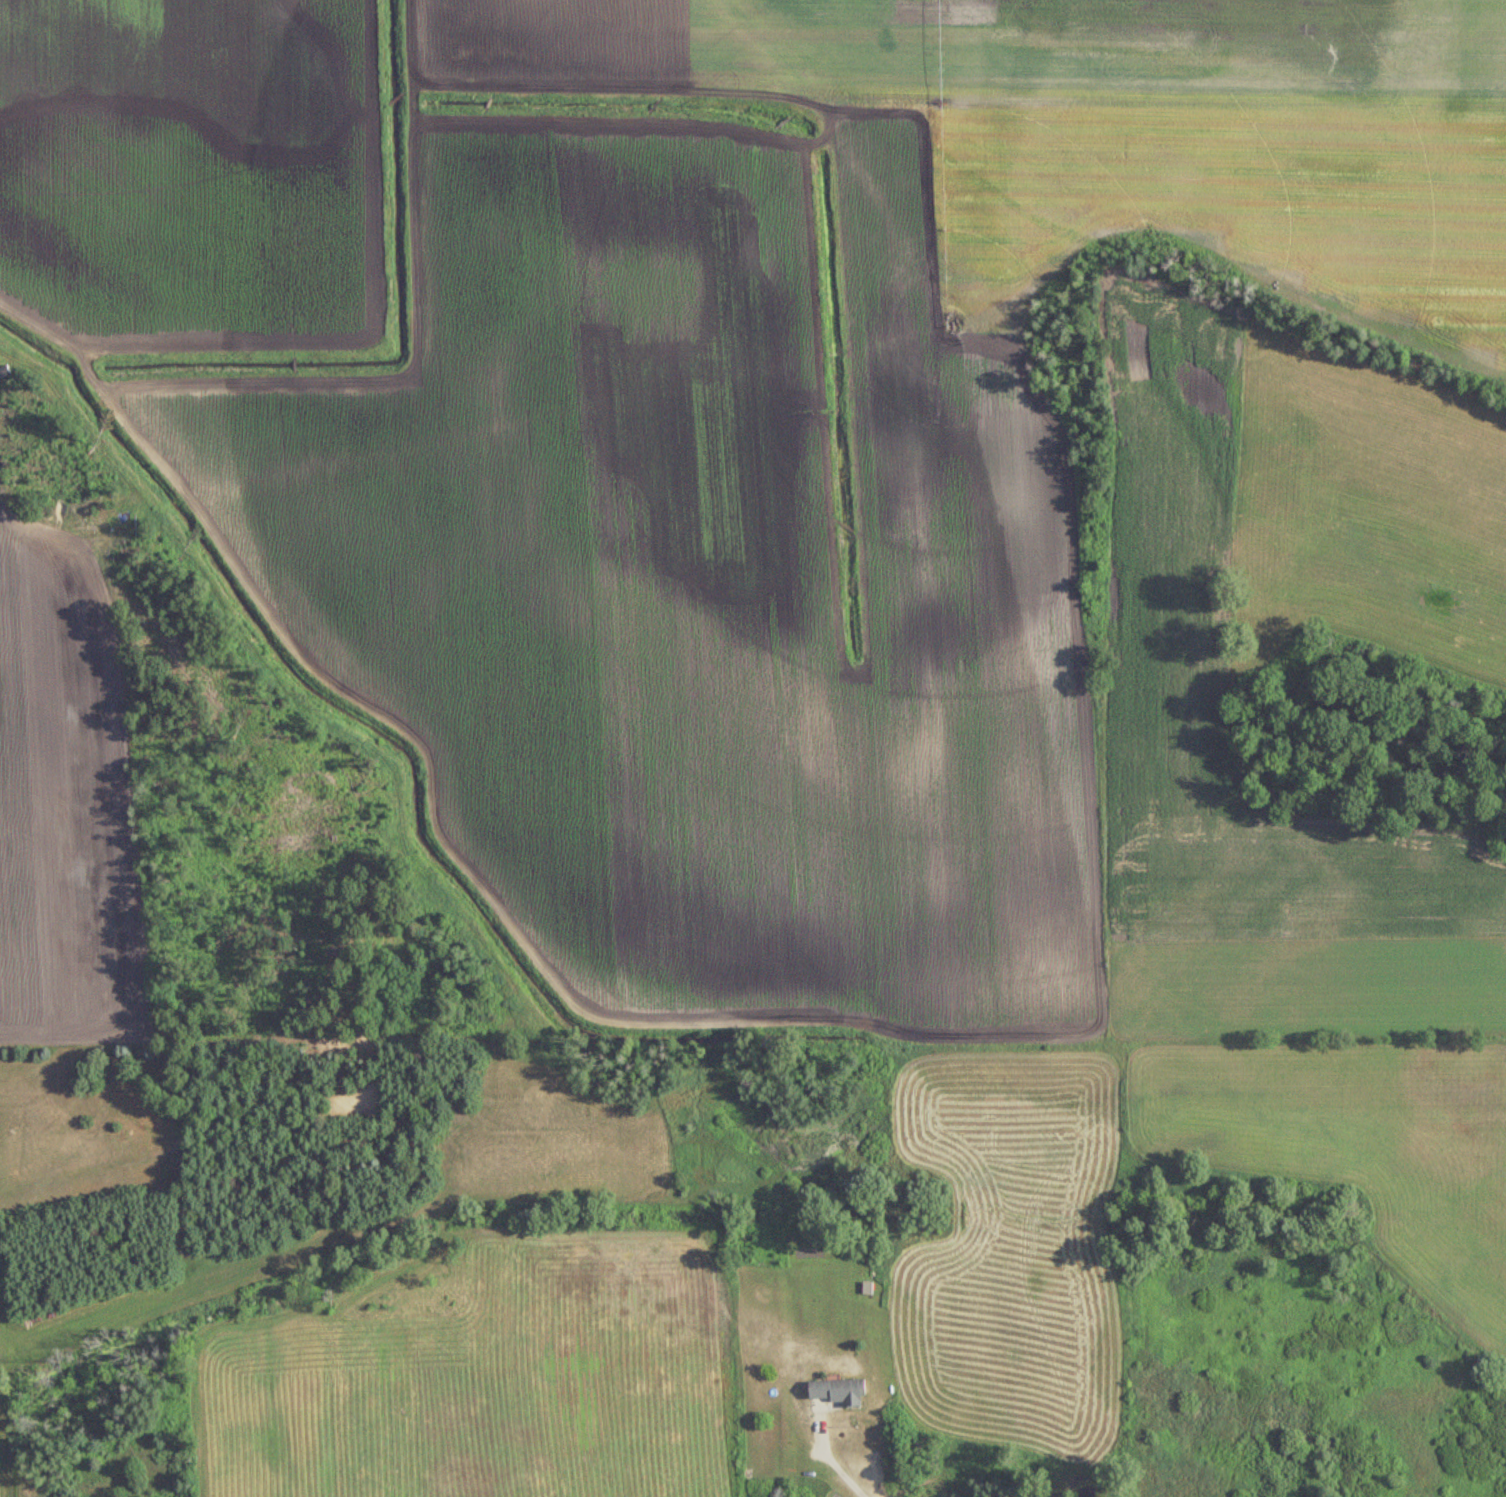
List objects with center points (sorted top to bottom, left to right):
building: (839, 1392)
road: (829, 1457)

